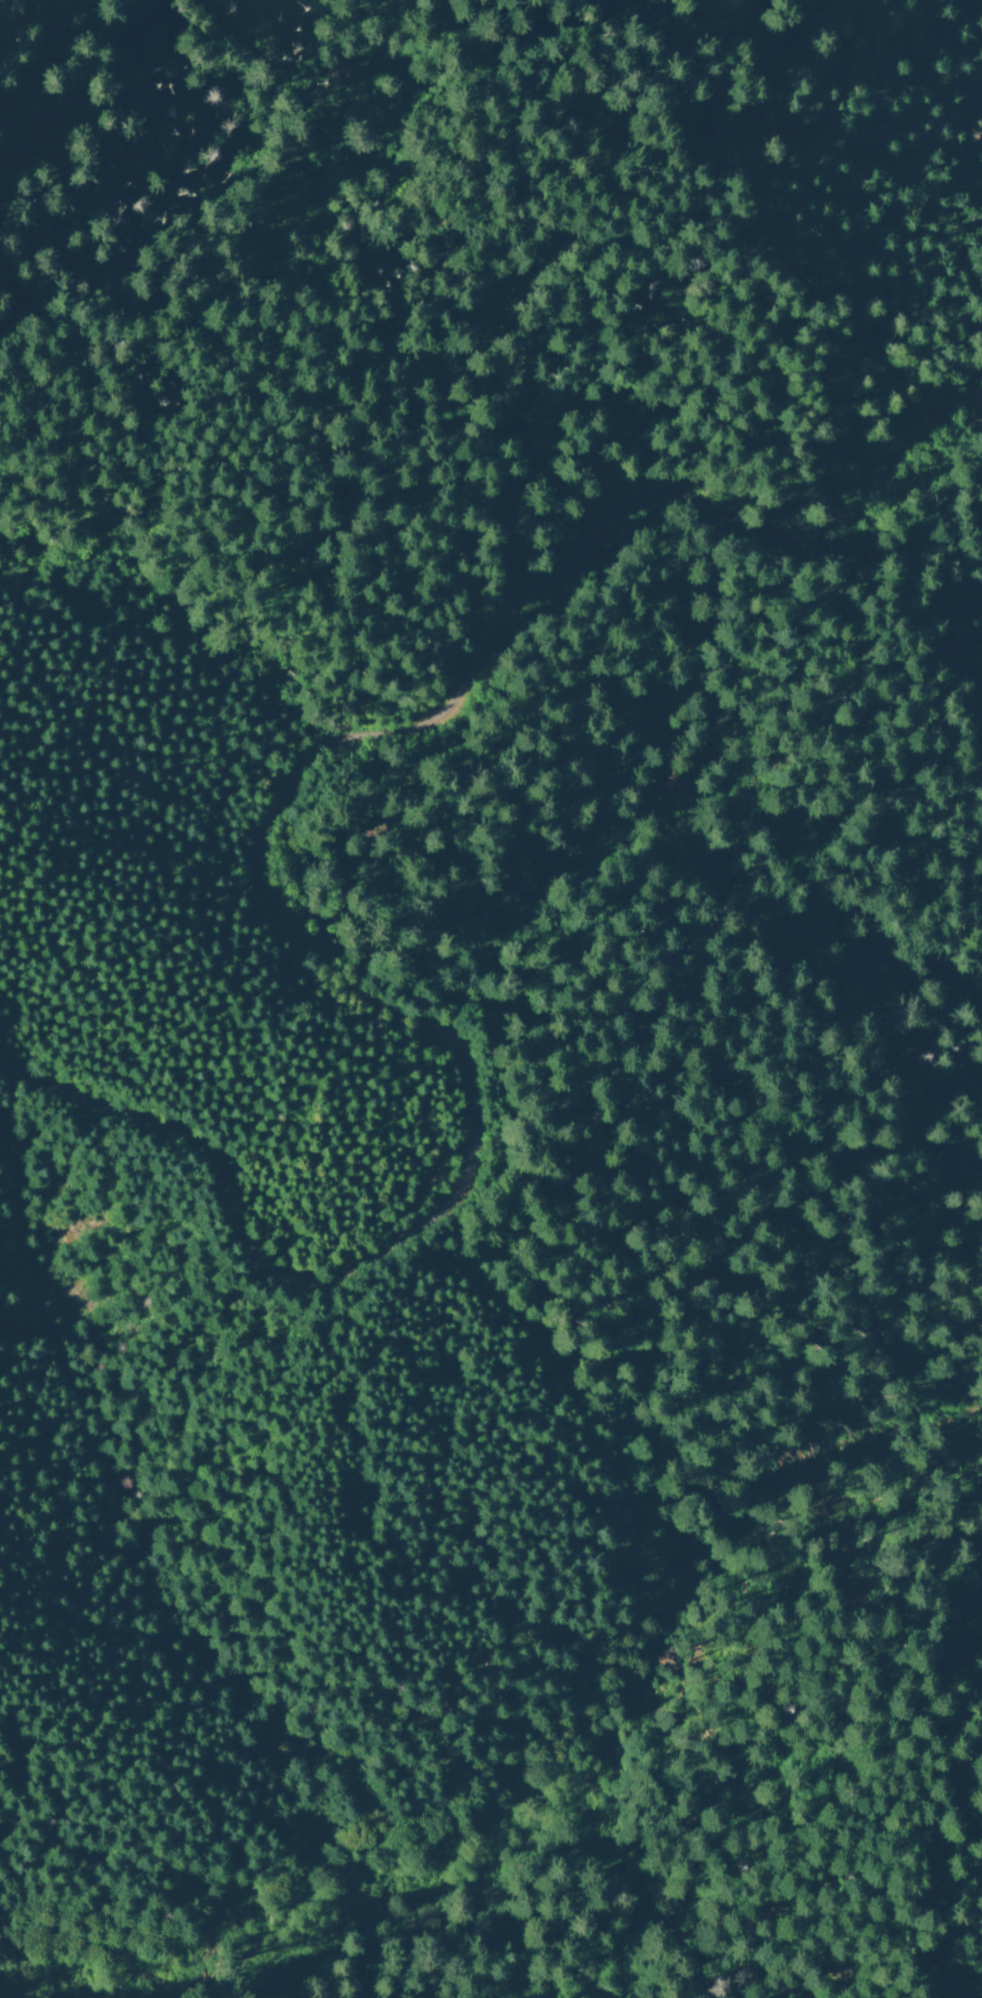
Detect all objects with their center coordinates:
road: (336, 875)

